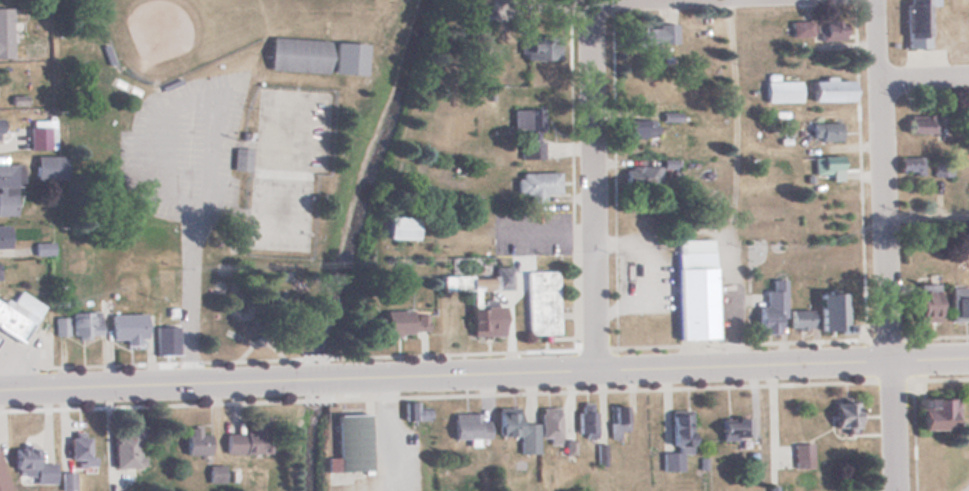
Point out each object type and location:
park: (390, 5)
building: (481, 15)
road: (587, 18)
building: (914, 22)
building: (800, 28)
building: (827, 30)
park: (178, 31)
building: (5, 32)
building: (648, 35)
building: (538, 47)
building: (298, 54)
building: (349, 58)
road: (922, 76)
building: (828, 90)
building: (779, 91)
building: (317, 99)
building: (919, 124)
park: (294, 128)
building: (636, 128)
building: (823, 131)
building: (525, 134)
building: (39, 139)
park: (230, 145)
building: (825, 166)
building: (50, 167)
building: (456, 171)
building: (638, 176)
road: (729, 183)
building: (535, 184)
building: (9, 187)
road: (592, 195)
building: (283, 220)
building: (400, 227)
building: (4, 237)
road: (882, 245)
building: (692, 289)
building: (539, 302)
building: (923, 303)
building: (956, 303)
building: (769, 308)
building: (19, 314)
building: (829, 314)
building: (797, 319)
building: (403, 322)
building: (78, 324)
building: (129, 328)
building: (167, 340)
road: (653, 369)
road: (315, 380)
road: (146, 386)
building: (413, 409)
building: (933, 412)
building: (841, 414)
building: (583, 419)
building: (615, 421)
building: (467, 425)
building: (730, 427)
building: (678, 434)
building: (250, 437)
building: (196, 440)
building: (350, 442)
building: (127, 446)
building: (79, 451)
building: (799, 454)
building: (32, 465)
building: (1, 471)
building: (216, 472)
building: (858, 490)

